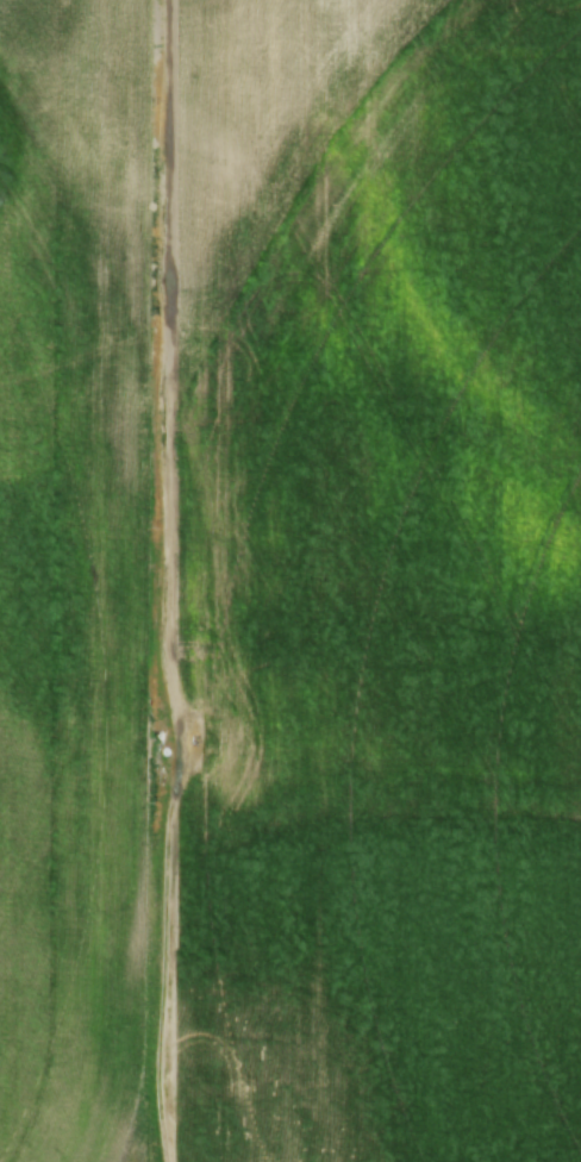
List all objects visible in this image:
crop: (270, 442)

